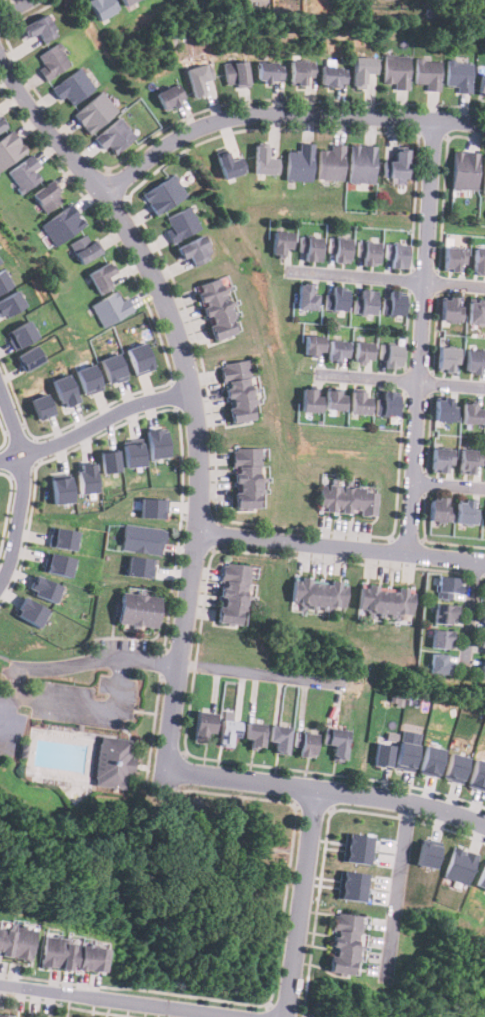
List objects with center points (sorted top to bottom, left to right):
building: (125, 2)
road: (15, 8)
building: (101, 8)
building: (37, 28)
building: (52, 61)
building: (362, 69)
building: (269, 71)
building: (300, 71)
building: (396, 71)
building: (427, 73)
building: (235, 74)
building: (458, 75)
building: (332, 76)
building: (197, 78)
building: (481, 85)
building: (72, 87)
building: (169, 97)
building: (94, 112)
road: (281, 113)
building: (1, 125)
building: (113, 136)
building: (9, 149)
building: (263, 161)
building: (330, 162)
building: (299, 163)
building: (361, 164)
building: (396, 164)
building: (228, 165)
building: (463, 170)
building: (25, 172)
building: (484, 175)
building: (163, 194)
building: (46, 197)
building: (180, 224)
building: (61, 225)
building: (280, 244)
building: (309, 248)
building: (83, 249)
building: (338, 250)
building: (194, 251)
building: (366, 253)
building: (395, 256)
building: (453, 259)
building: (478, 261)
building: (0, 262)
building: (100, 277)
road: (387, 277)
building: (4, 280)
building: (305, 297)
building: (335, 298)
building: (10, 303)
building: (363, 303)
building: (393, 303)
building: (110, 308)
building: (215, 309)
building: (450, 309)
building: (476, 311)
building: (20, 334)
road: (420, 336)
building: (313, 346)
building: (336, 351)
building: (362, 352)
building: (389, 355)
building: (29, 357)
building: (139, 358)
building: (446, 359)
building: (474, 361)
building: (113, 368)
road: (403, 378)
building: (88, 379)
road: (188, 386)
building: (64, 390)
building: (237, 391)
building: (309, 399)
building: (334, 399)
building: (358, 402)
building: (386, 404)
building: (42, 406)
building: (443, 410)
building: (470, 412)
road: (105, 419)
road: (16, 434)
building: (156, 443)
building: (132, 453)
building: (441, 459)
building: (109, 461)
building: (469, 462)
building: (86, 477)
building: (245, 478)
road: (448, 485)
building: (61, 488)
building: (346, 500)
building: (153, 508)
building: (439, 509)
building: (465, 511)
road: (17, 517)
building: (484, 519)
building: (62, 538)
building: (142, 539)
road: (339, 545)
building: (59, 564)
building: (140, 566)
building: (447, 587)
building: (44, 588)
building: (317, 592)
building: (484, 592)
building: (232, 595)
building: (384, 600)
building: (136, 610)
road: (469, 610)
building: (32, 612)
building: (442, 614)
building: (483, 619)
building: (440, 639)
building: (483, 645)
road: (100, 662)
building: (438, 664)
building: (481, 669)
road: (257, 672)
road: (86, 706)
building: (202, 726)
building: (227, 731)
building: (253, 734)
building: (278, 739)
building: (335, 742)
building: (305, 745)
building: (384, 748)
building: (408, 749)
building: (432, 760)
building: (112, 762)
building: (457, 767)
building: (478, 775)
road: (326, 790)
building: (358, 848)
building: (427, 854)
building: (460, 864)
building: (481, 877)
building: (353, 885)
road: (397, 888)
road: (302, 903)
building: (18, 925)
building: (16, 942)
building: (343, 943)
building: (73, 954)
road: (127, 1001)
building: (3, 1016)

